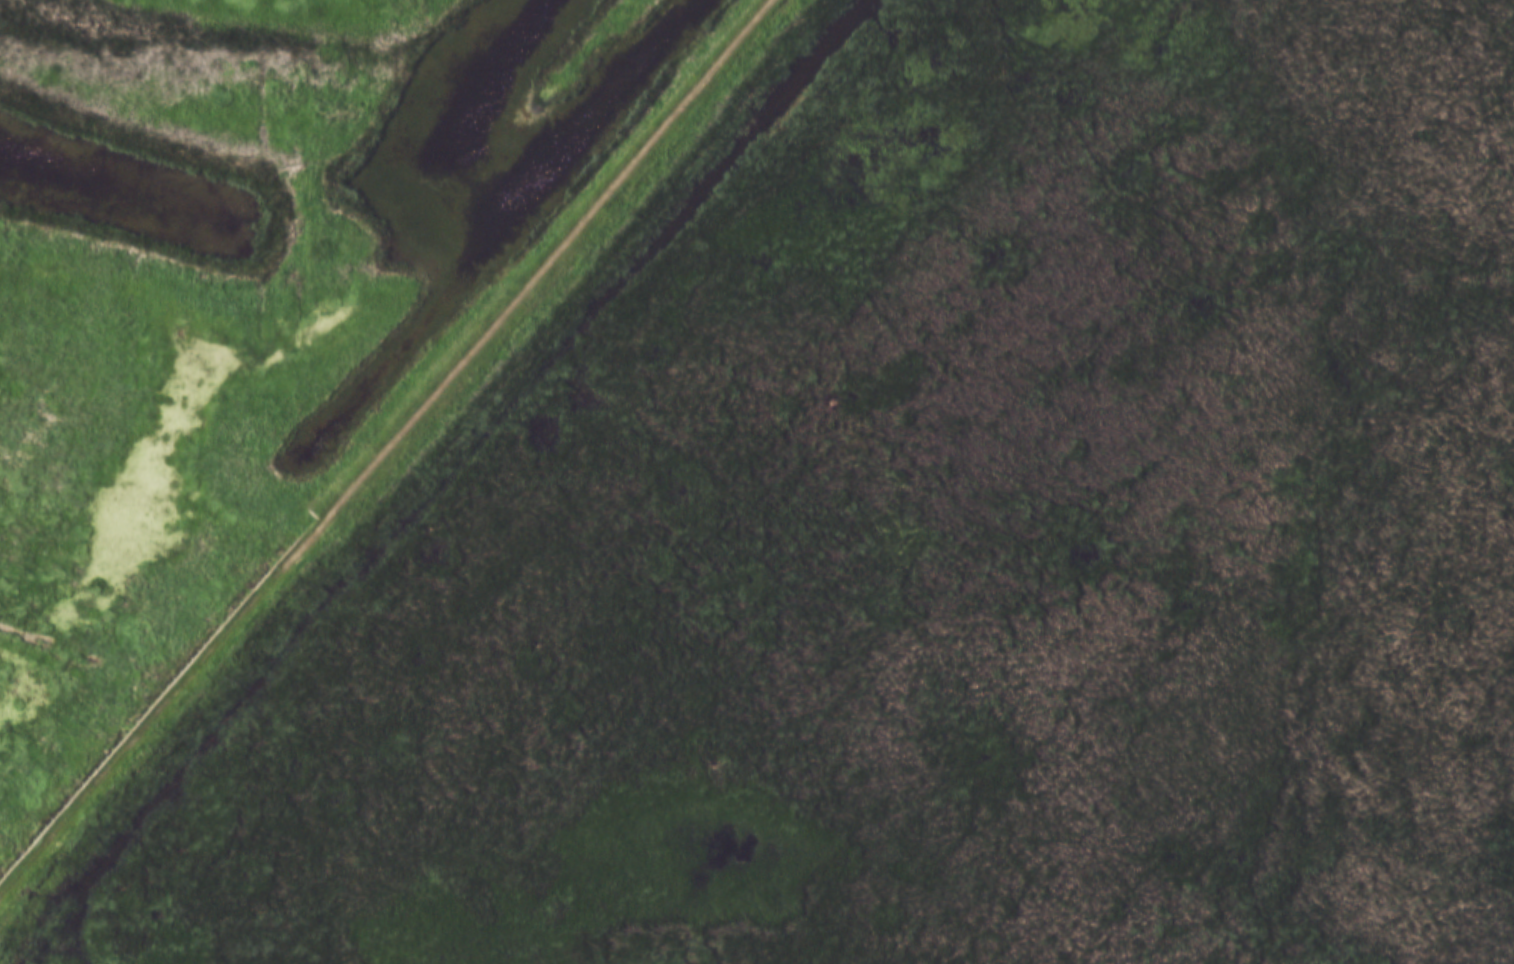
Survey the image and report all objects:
road: (385, 443)
dam: (401, 464)

